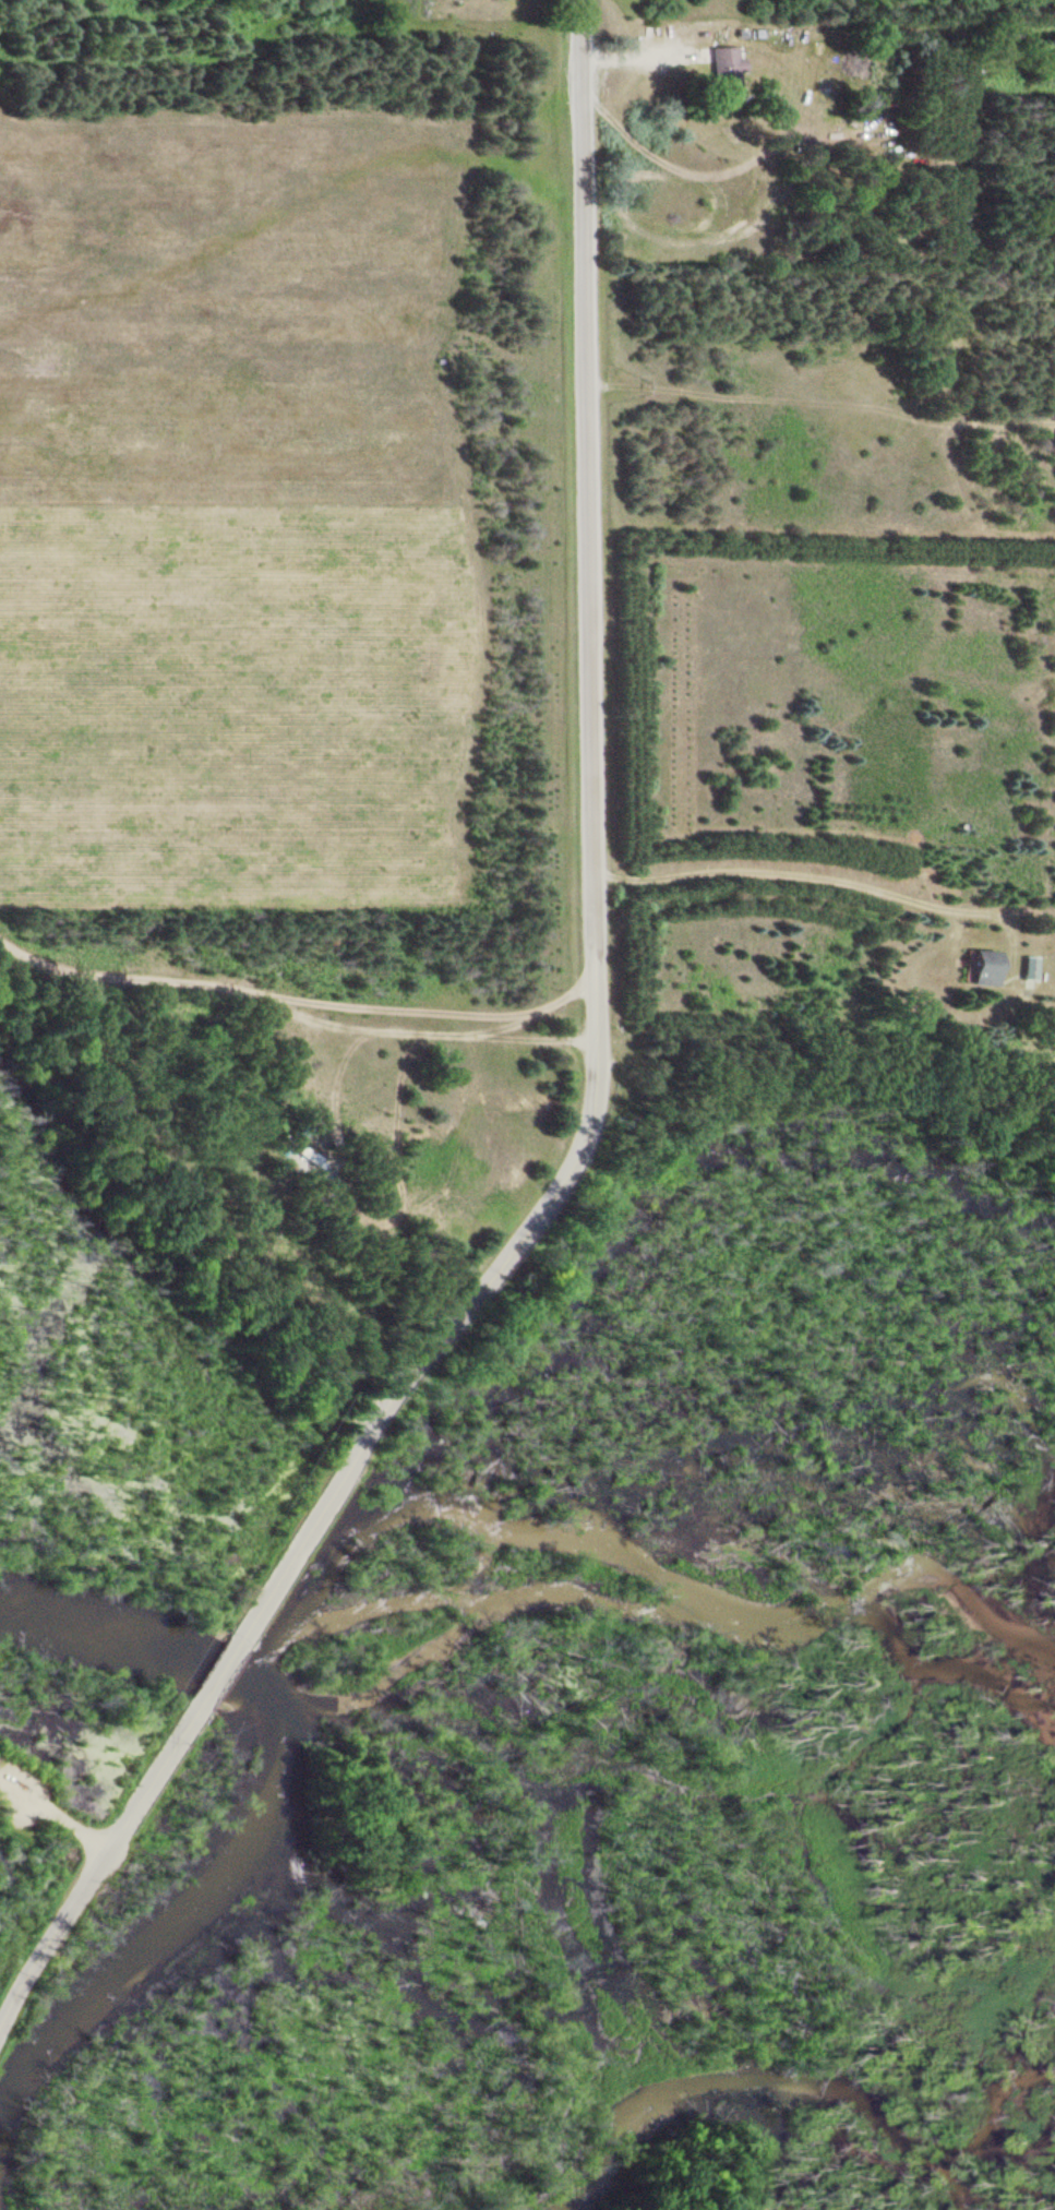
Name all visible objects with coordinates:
building: (724, 68)
road: (590, 871)
building: (979, 967)
building: (1026, 968)
road: (220, 1672)
river: (260, 1817)
road: (96, 1866)
river: (789, 2094)

